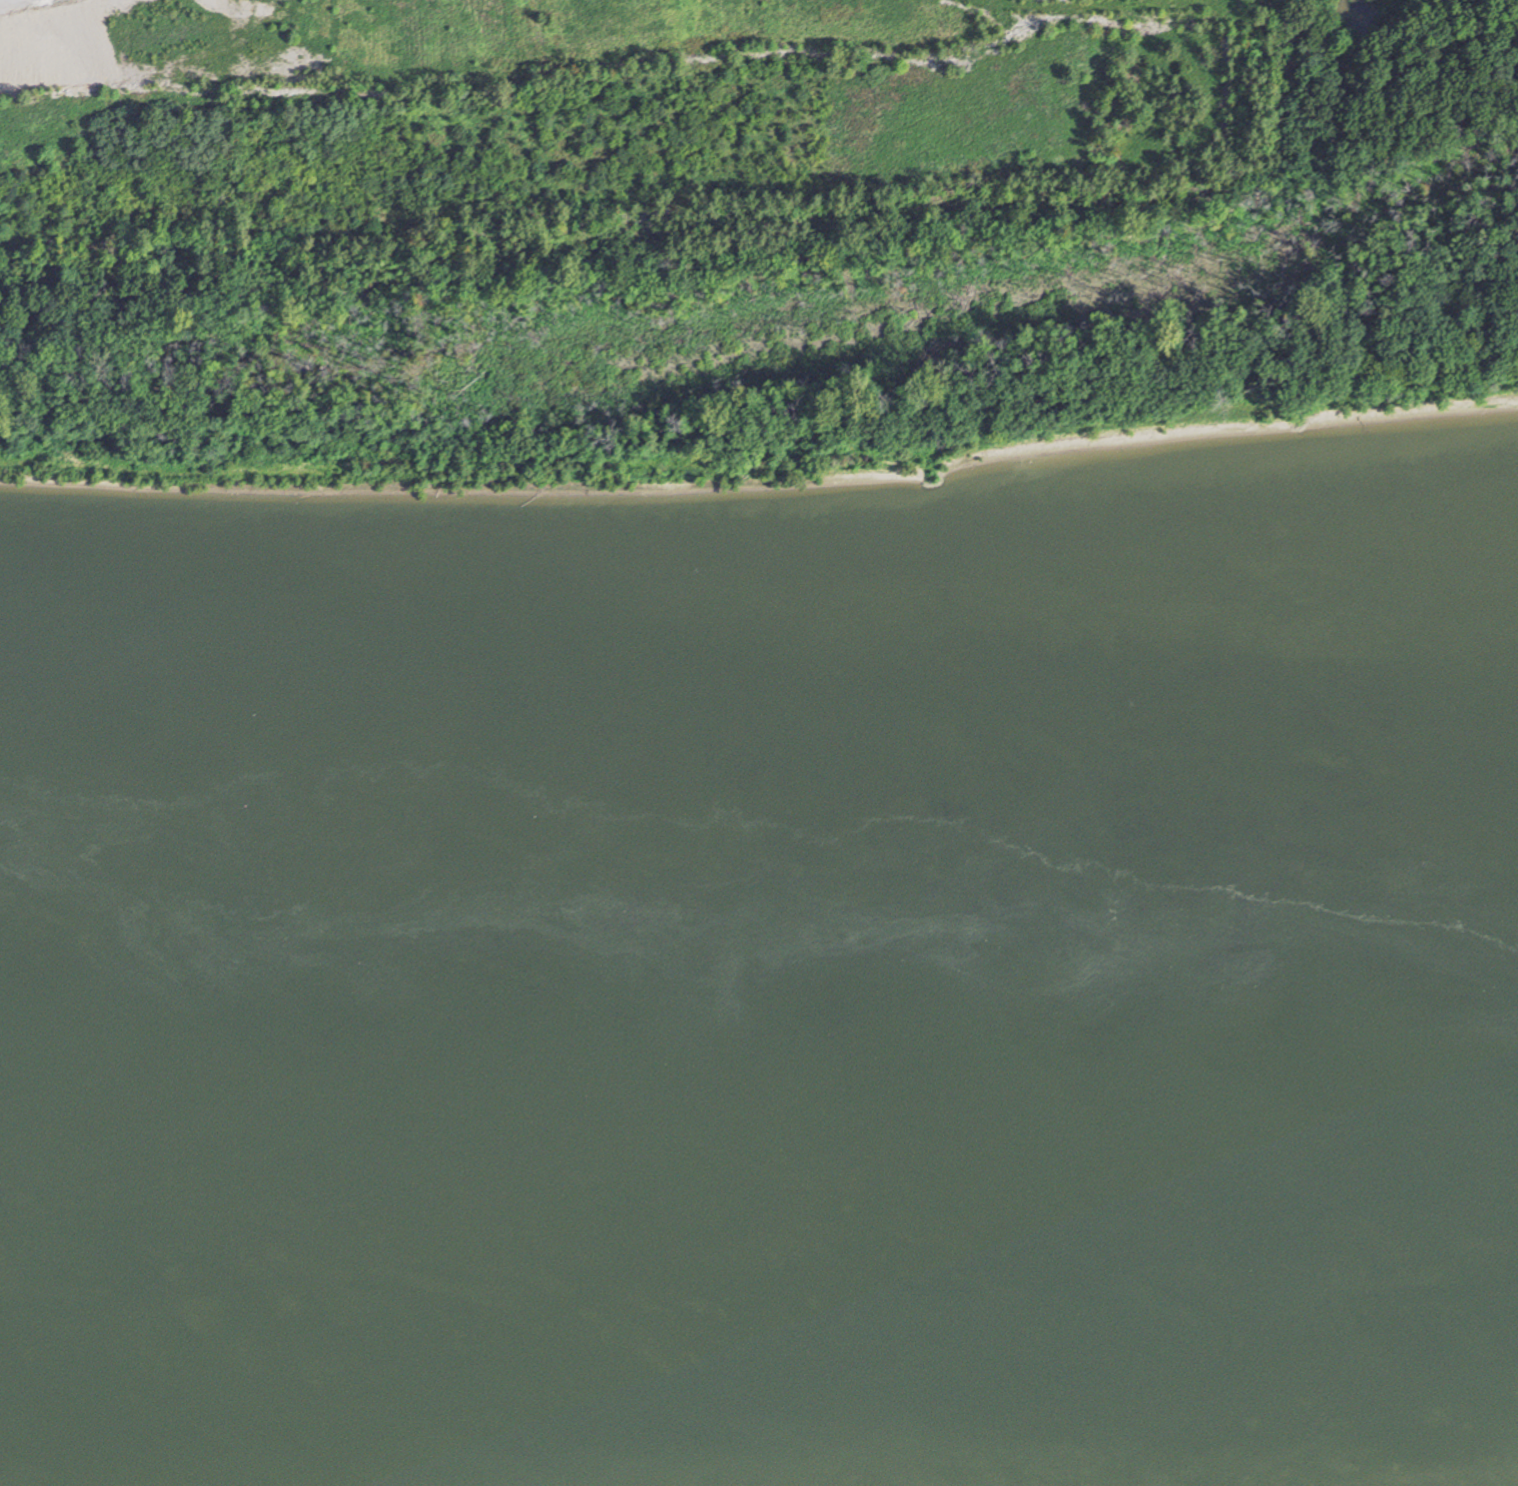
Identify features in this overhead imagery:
quarry: (498, 32)
river: (756, 1168)

